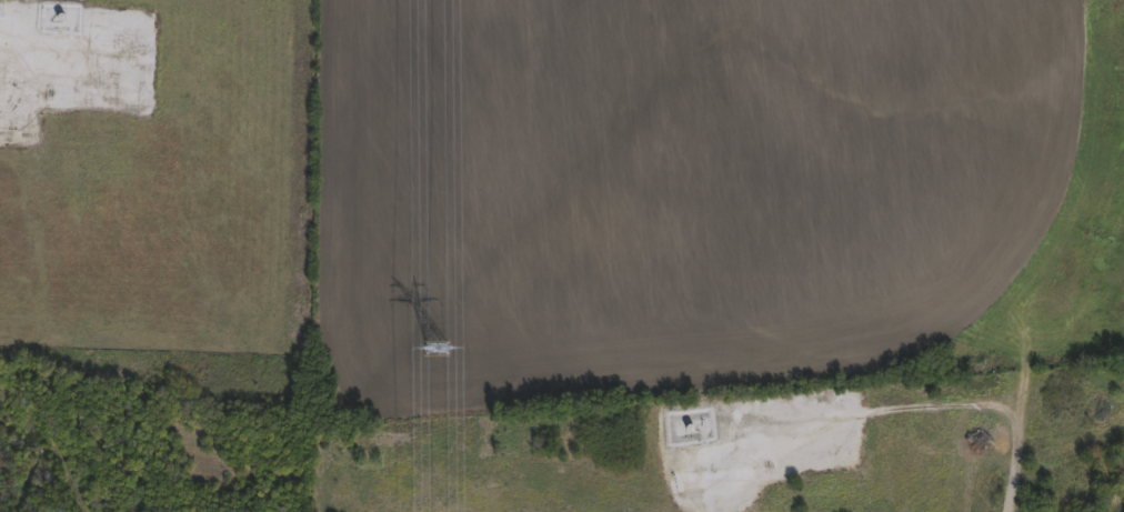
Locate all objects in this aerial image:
power tower: (432, 347)

